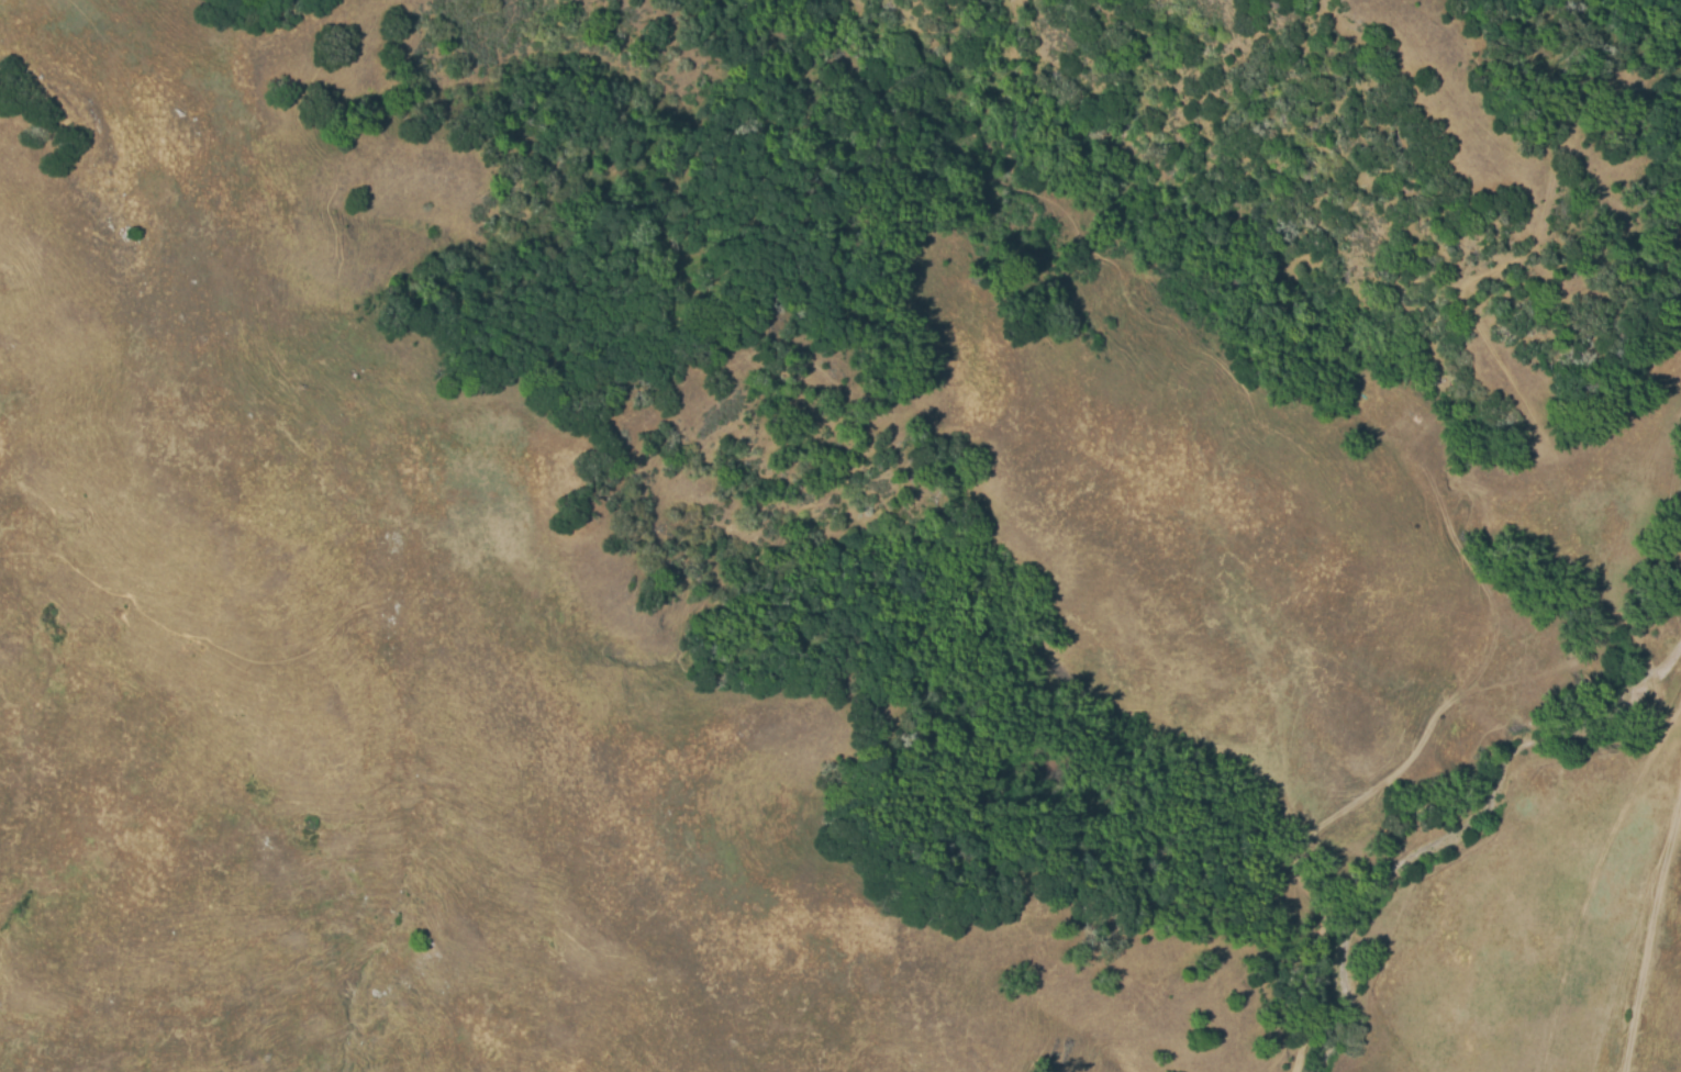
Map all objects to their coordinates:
road: (1629, 898)

